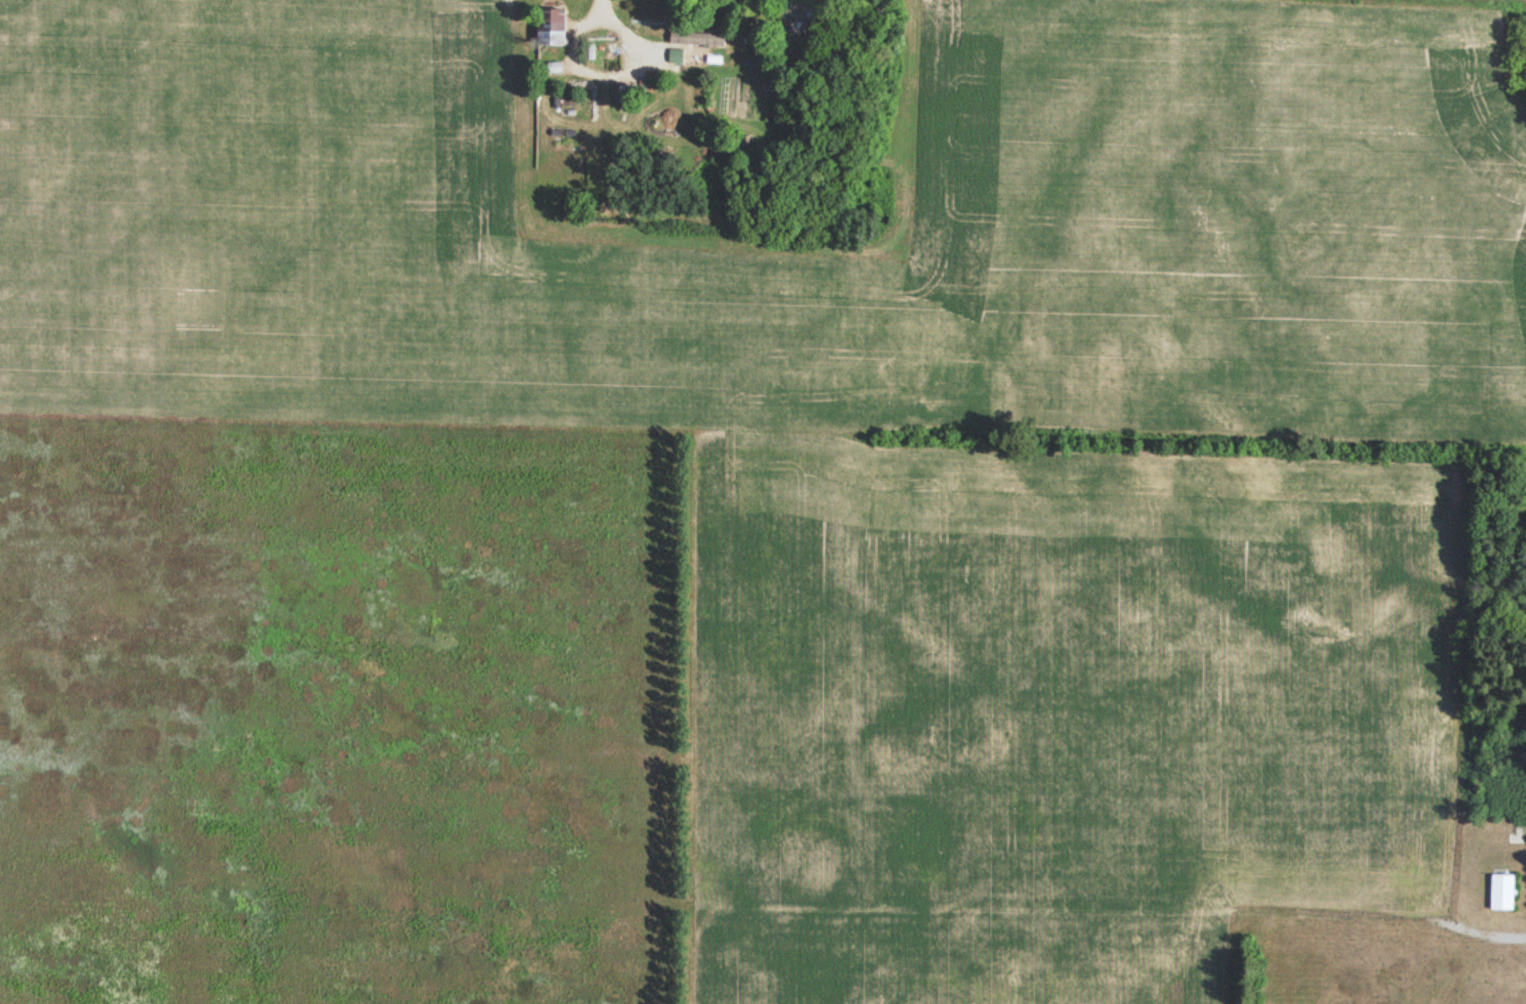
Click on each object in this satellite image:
building: (551, 27)
building: (696, 39)
building: (674, 56)
building: (761, 168)
building: (1501, 893)

